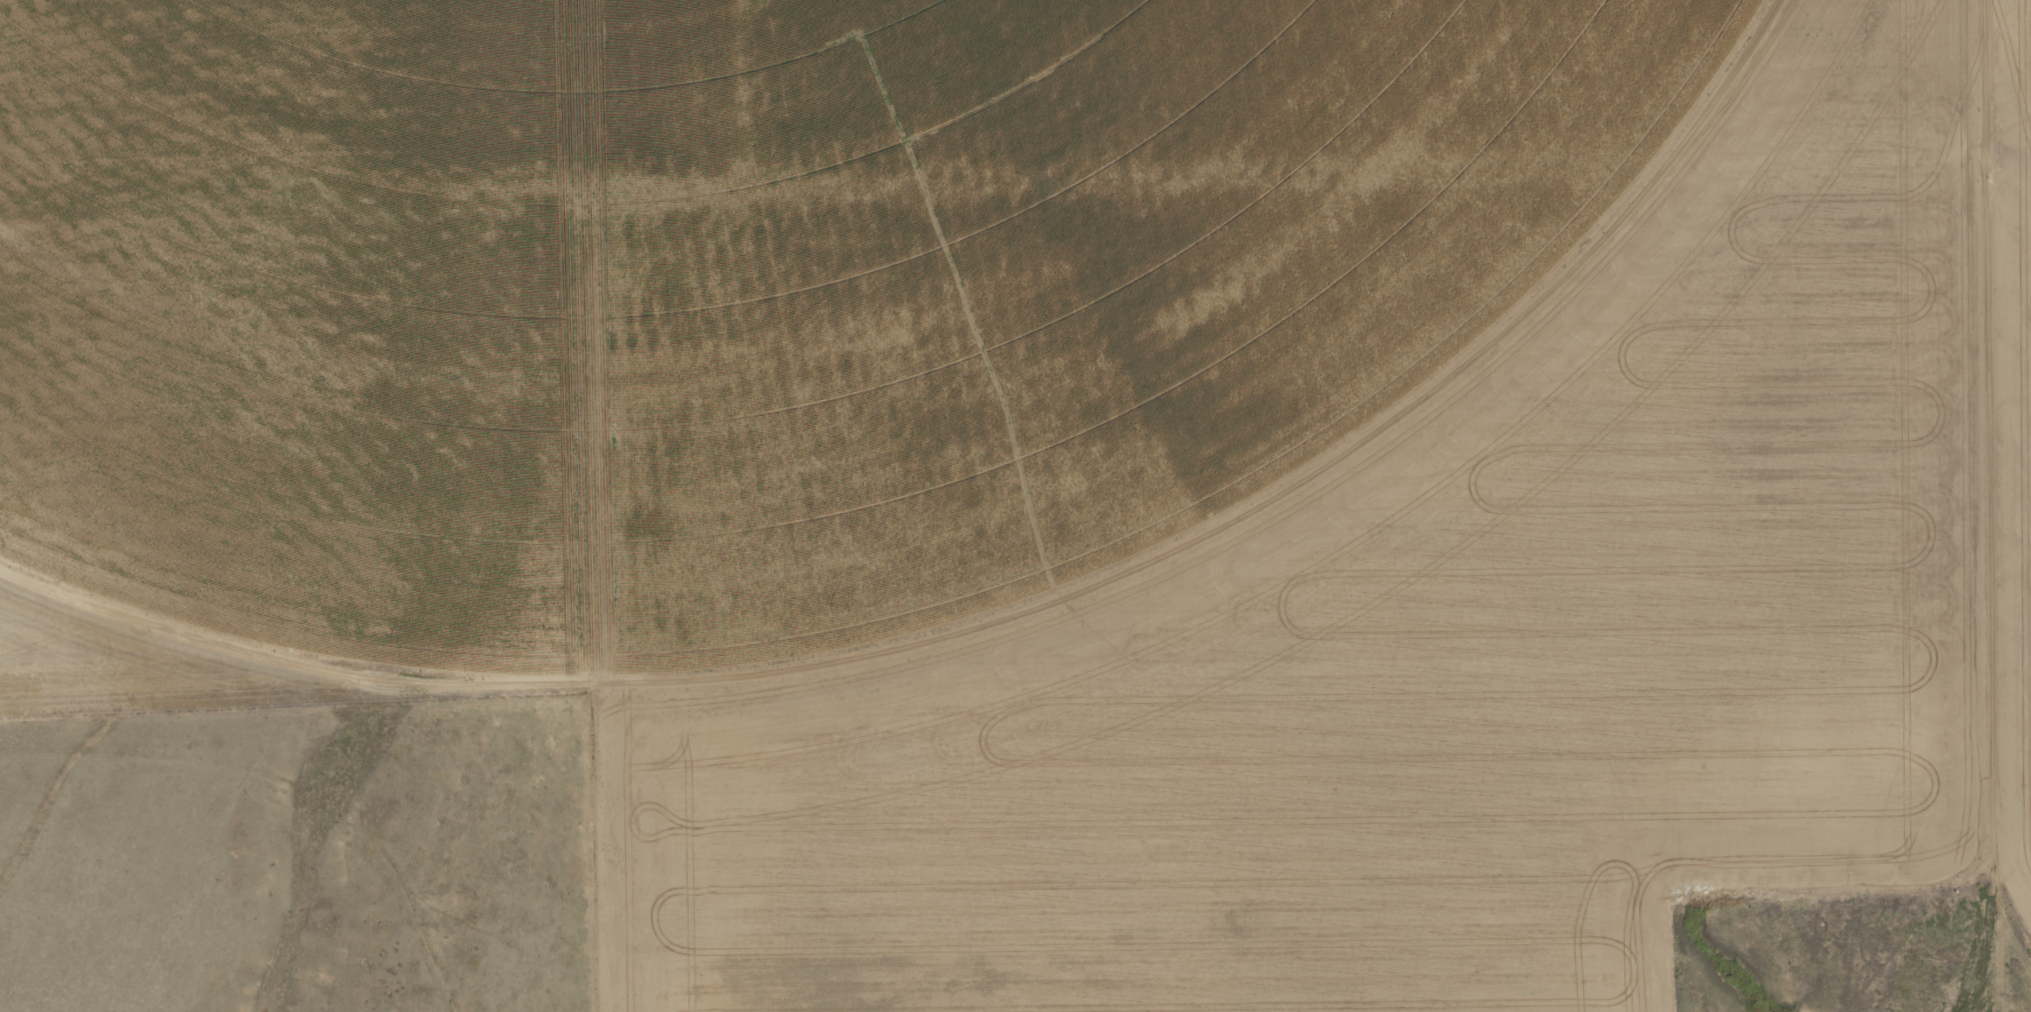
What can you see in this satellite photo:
road: (1023, 176)
road: (1973, 509)

